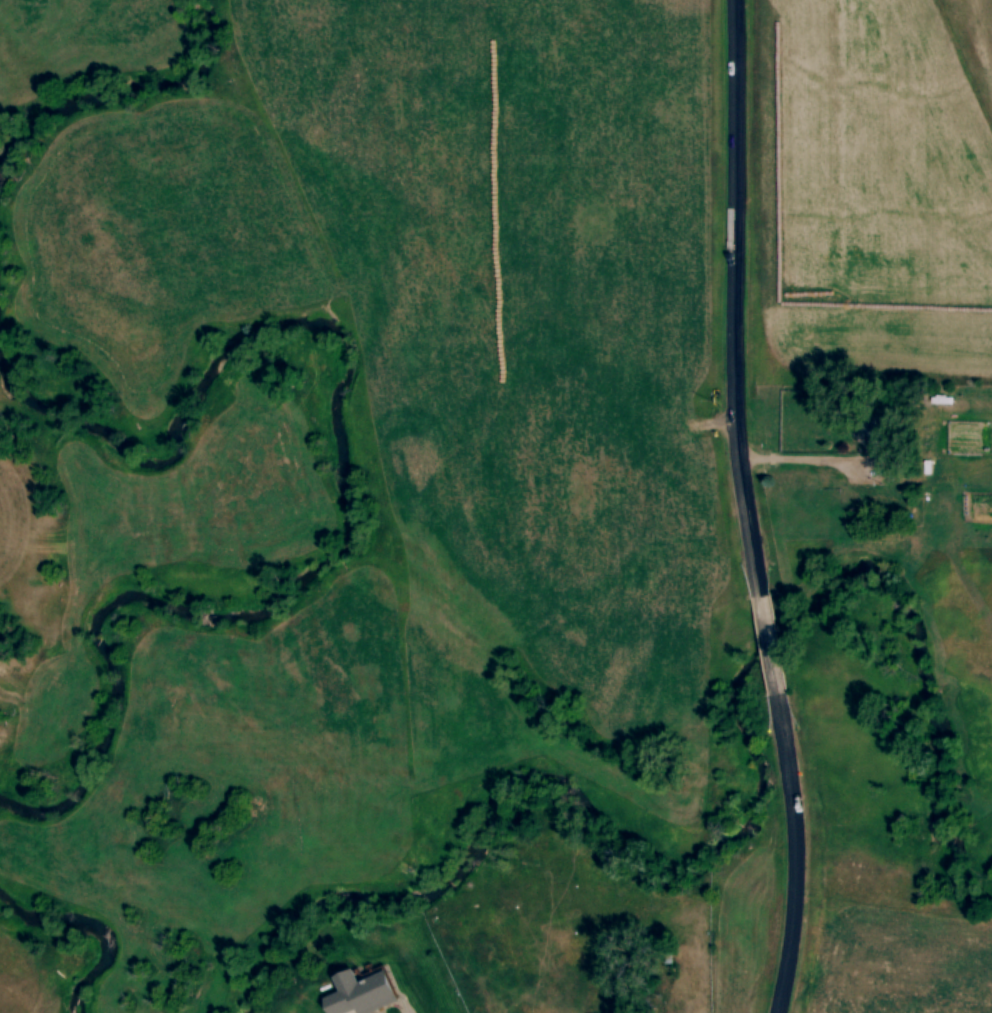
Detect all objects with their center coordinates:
road: (733, 299)
building: (869, 436)
road: (767, 647)
road: (794, 855)
building: (365, 995)

